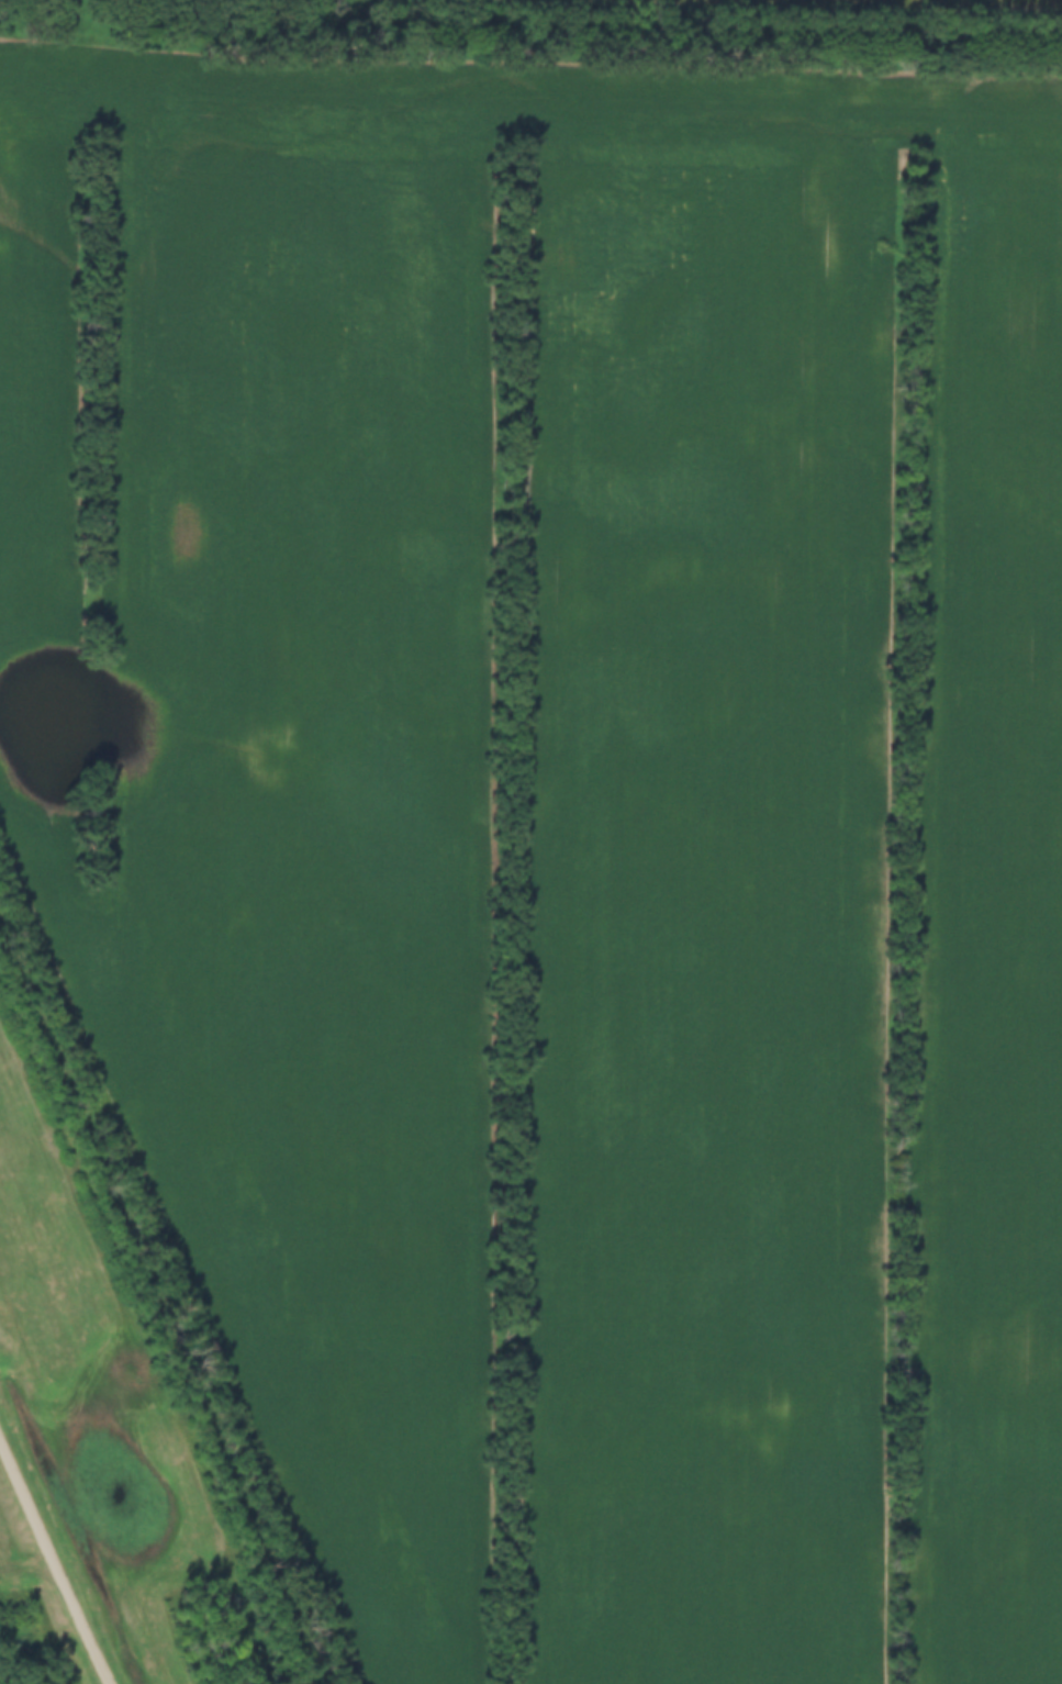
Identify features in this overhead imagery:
road: (52, 1566)

